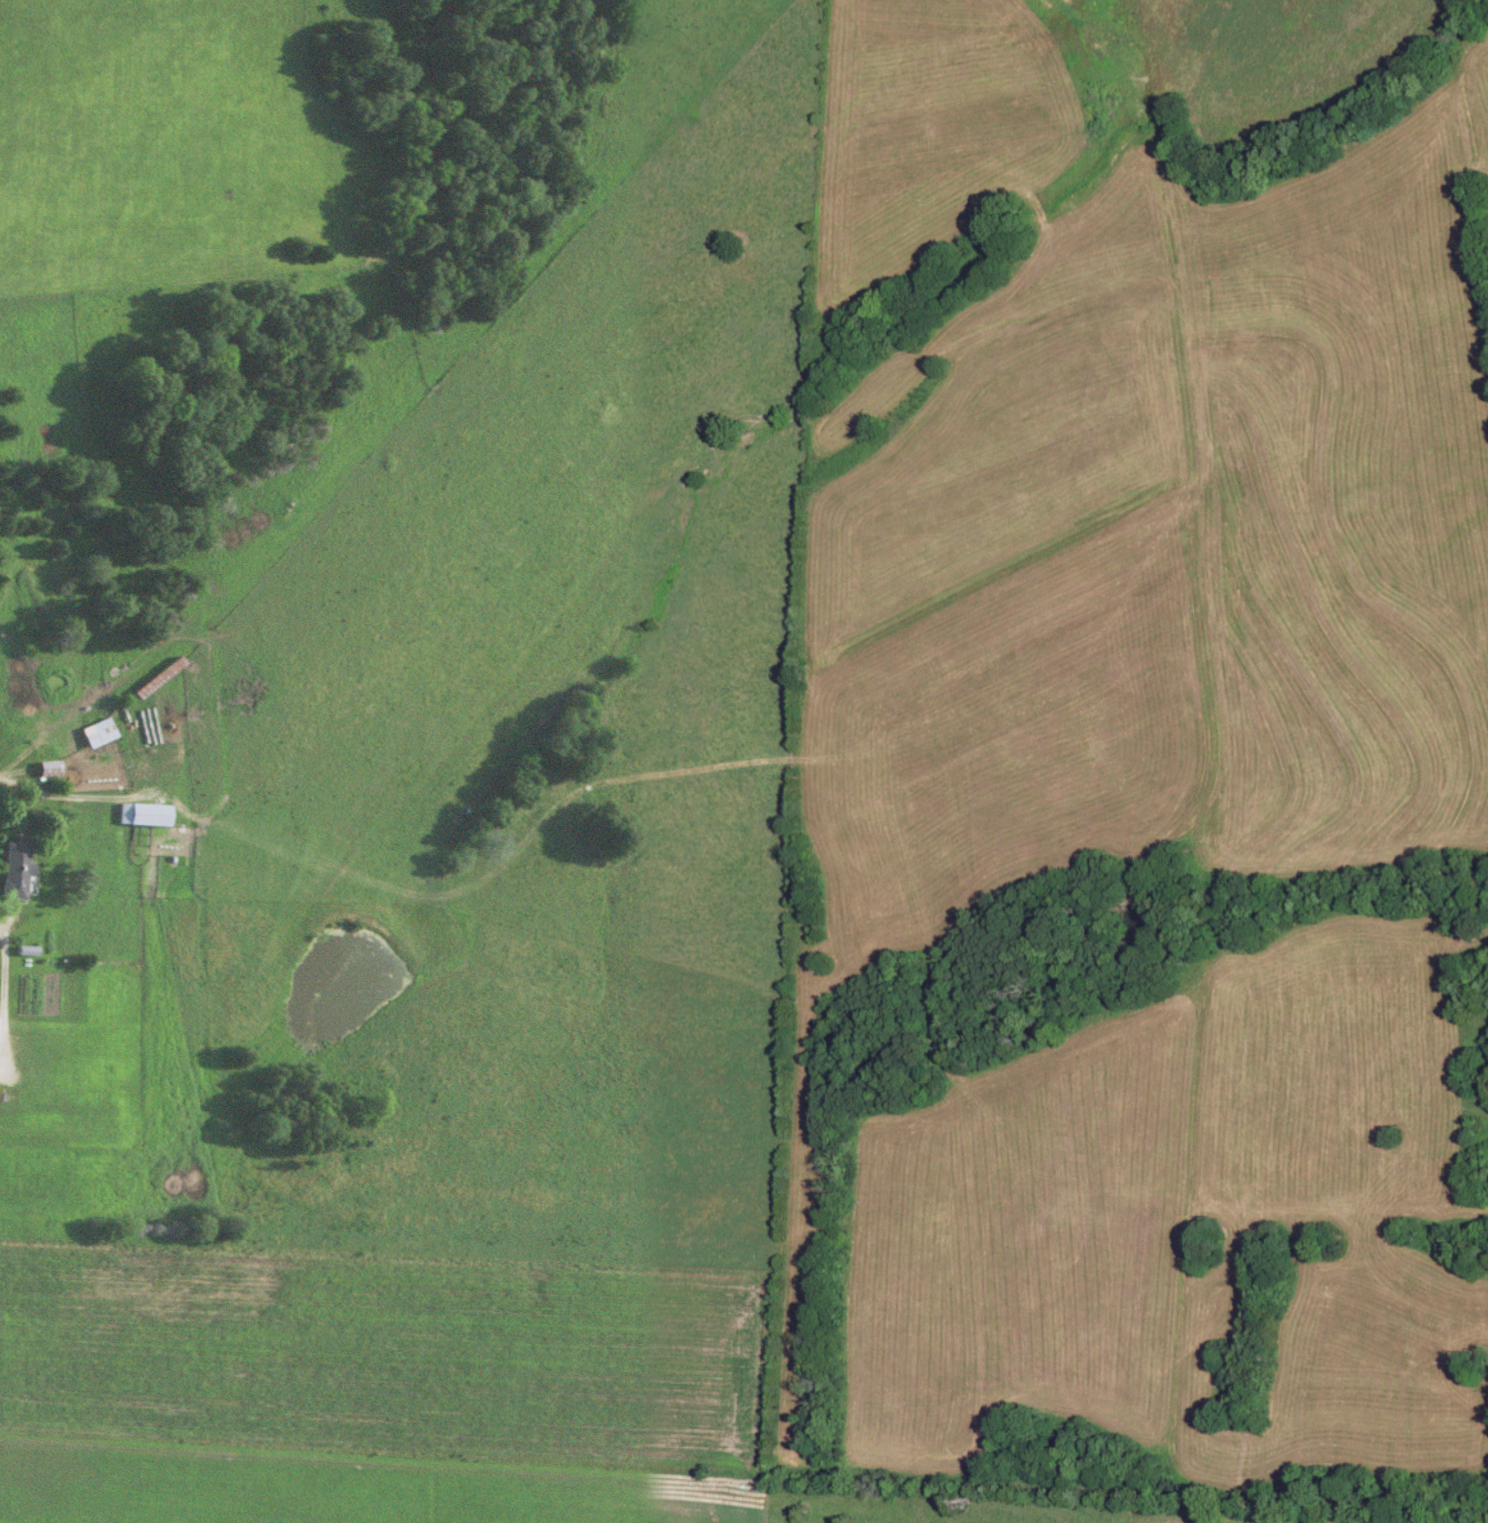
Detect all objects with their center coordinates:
building: (98, 734)
building: (145, 816)
building: (16, 872)

